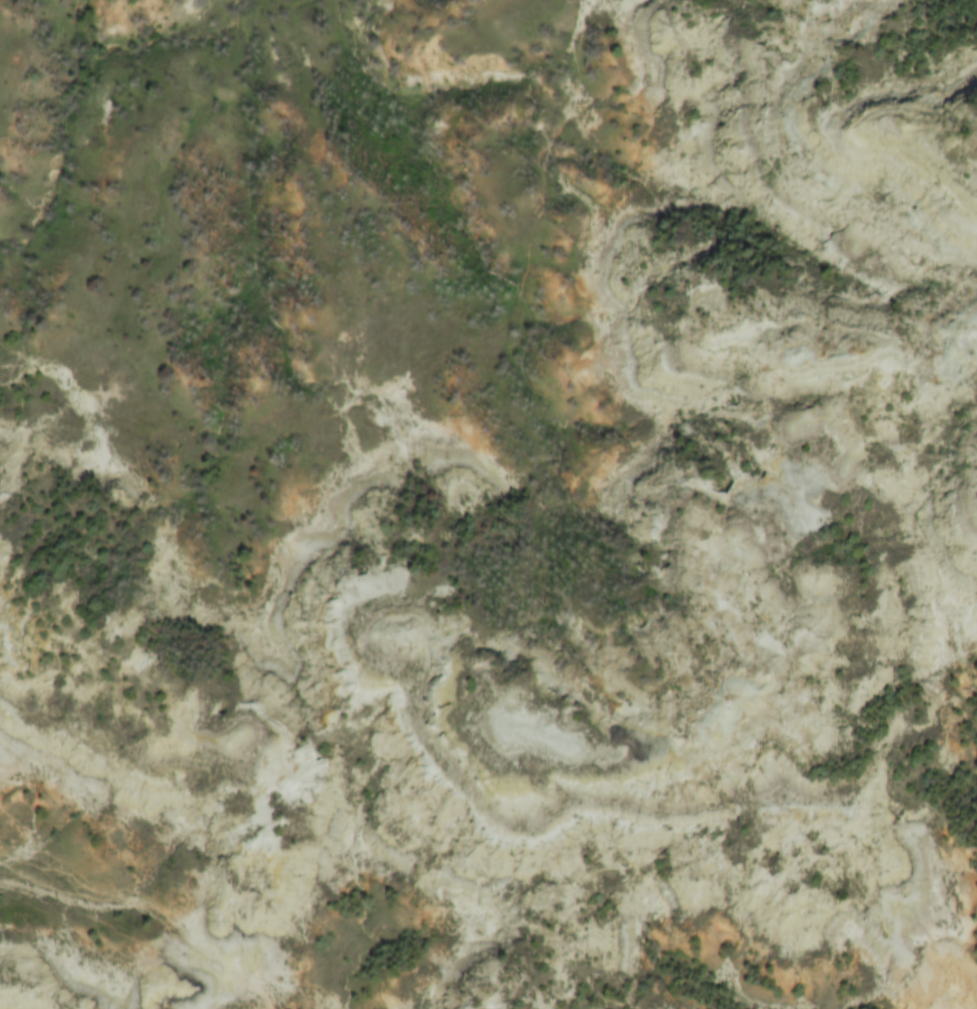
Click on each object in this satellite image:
road: (153, 909)

